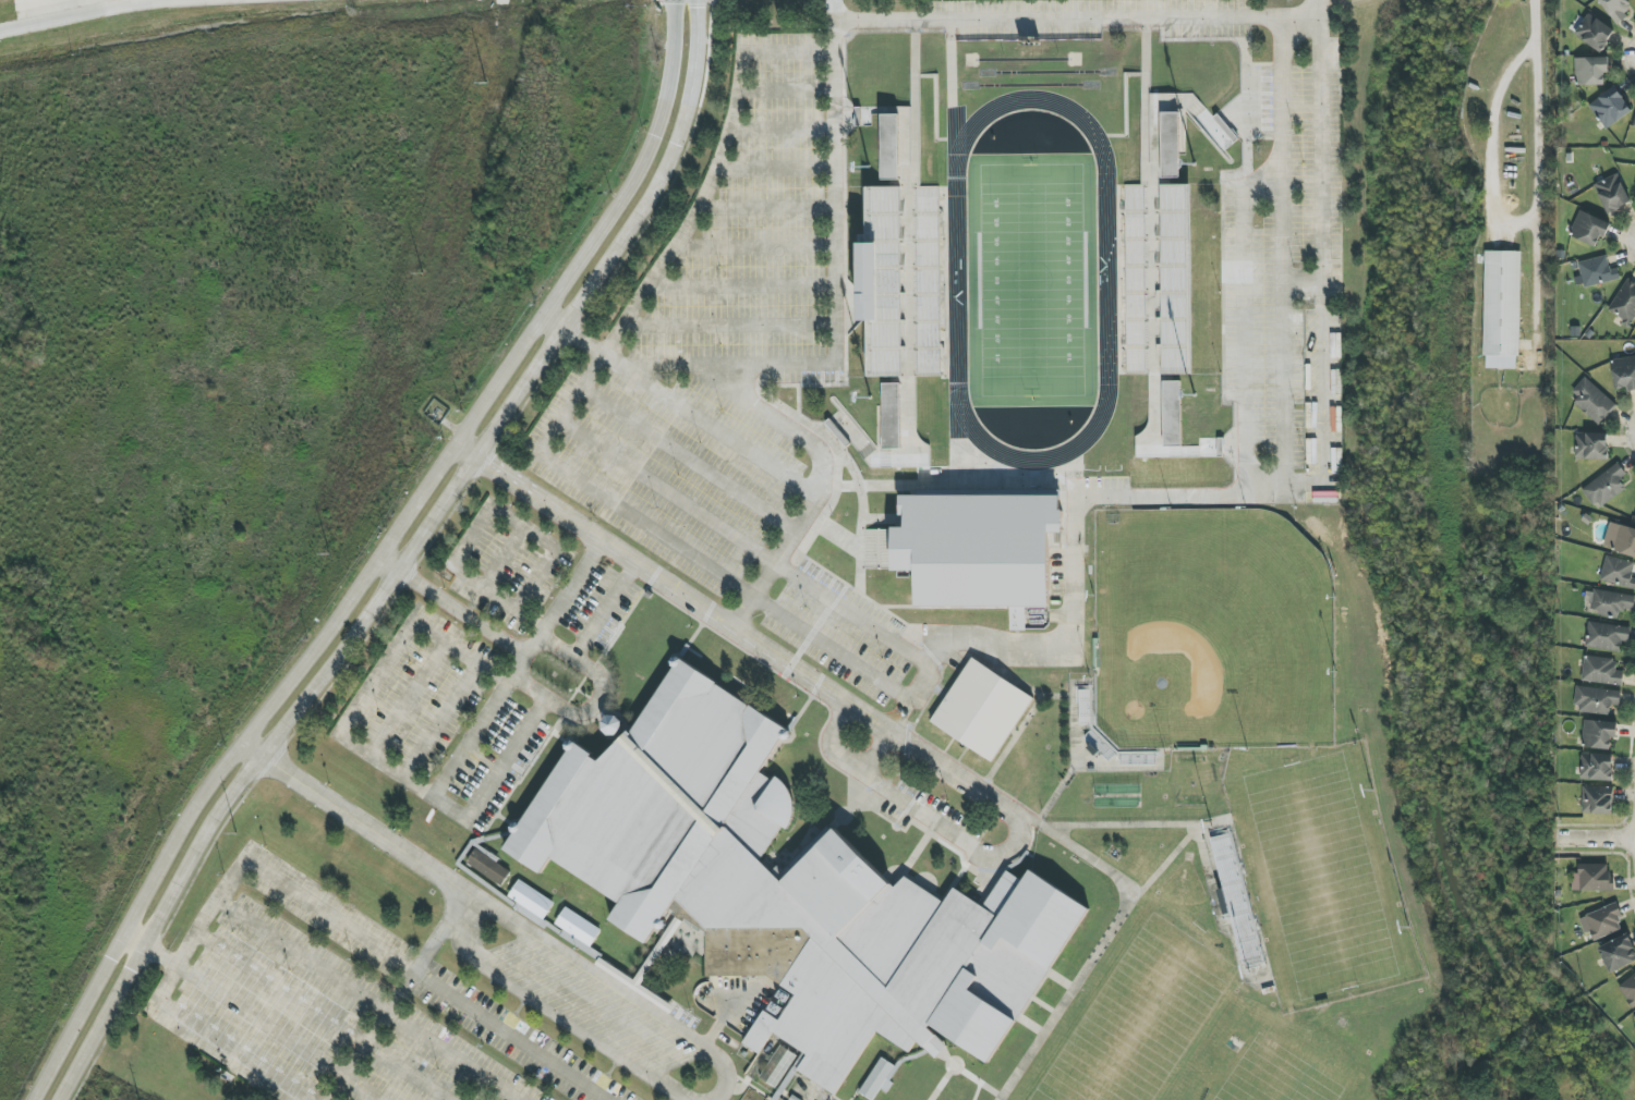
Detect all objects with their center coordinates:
road: (87, 12)
road: (1077, 20)
building: (1594, 33)
building: (1590, 71)
road: (787, 89)
building: (1610, 108)
road: (1543, 110)
building: (1634, 123)
road: (784, 127)
building: (1172, 145)
building: (891, 147)
road: (1500, 150)
road: (777, 167)
road: (663, 175)
building: (1612, 194)
road: (767, 207)
building: (1589, 229)
road: (756, 245)
building: (1597, 271)
track: (954, 280)
park: (1029, 280)
building: (1177, 280)
building: (901, 283)
road: (743, 284)
road: (836, 290)
building: (1624, 303)
building: (1501, 309)
road: (554, 320)
road: (730, 323)
building: (1624, 374)
building: (1592, 401)
road: (567, 410)
road: (691, 412)
building: (893, 415)
building: (1173, 431)
building: (1591, 445)
road: (467, 451)
road: (689, 461)
building: (1606, 486)
road: (822, 487)
road: (668, 492)
road: (1196, 496)
road: (402, 525)
road: (525, 528)
building: (1620, 539)
building: (981, 552)
road: (506, 557)
road: (389, 565)
building: (1618, 572)
road: (500, 595)
building: (1608, 602)
road: (605, 610)
road: (462, 613)
park: (1210, 631)
road: (743, 635)
building: (1606, 636)
stadium: (1197, 644)
road: (461, 651)
road: (517, 668)
building: (1601, 671)
road: (377, 679)
road: (409, 699)
building: (1596, 700)
road: (598, 702)
road: (299, 706)
building: (982, 709)
road: (897, 719)
road: (441, 720)
building: (613, 725)
building: (1598, 734)
road: (251, 751)
road: (509, 757)
building: (1597, 767)
road: (404, 778)
building: (1597, 799)
road: (917, 809)
road: (364, 823)
road: (1596, 836)
building: (488, 865)
park: (1319, 876)
stadium: (1306, 877)
building: (1592, 878)
building: (787, 890)
road: (308, 902)
building: (531, 903)
road: (254, 919)
building: (1603, 921)
building: (579, 927)
road: (136, 937)
road: (427, 946)
building: (1618, 953)
road: (614, 985)
building: (1628, 990)
road: (547, 1010)
building: (1634, 1016)
road: (509, 1036)
road: (204, 1038)
road: (356, 1053)
road: (458, 1053)
road: (52, 1064)
building: (778, 1066)
building: (879, 1079)

